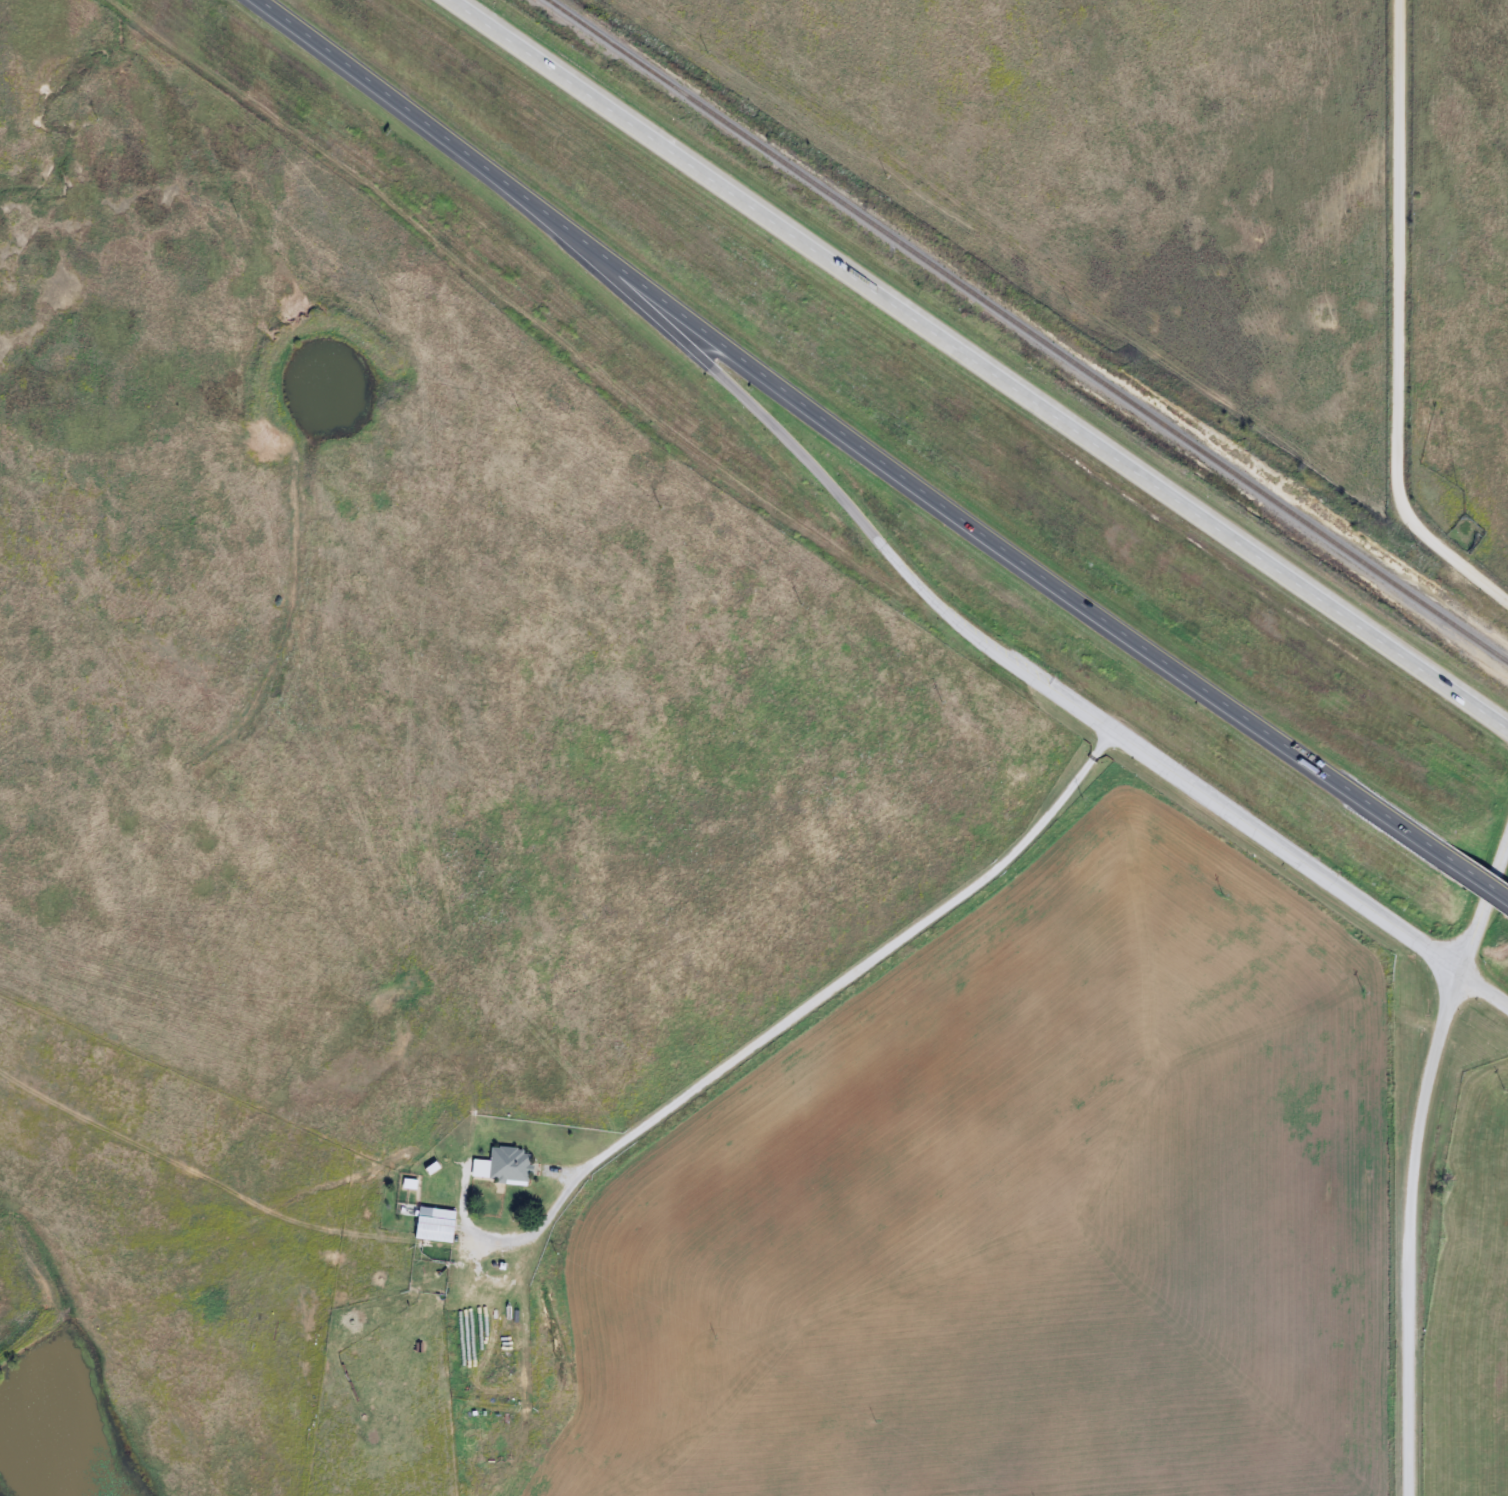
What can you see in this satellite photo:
road: (1400, 321)
railway: (1027, 332)
road: (984, 362)
road: (844, 430)
road: (795, 438)
road: (1254, 829)
road: (1471, 875)
road: (1486, 986)
road: (781, 1004)
road: (613, 1144)
building: (501, 1166)
road: (1417, 1166)
building: (433, 1225)

